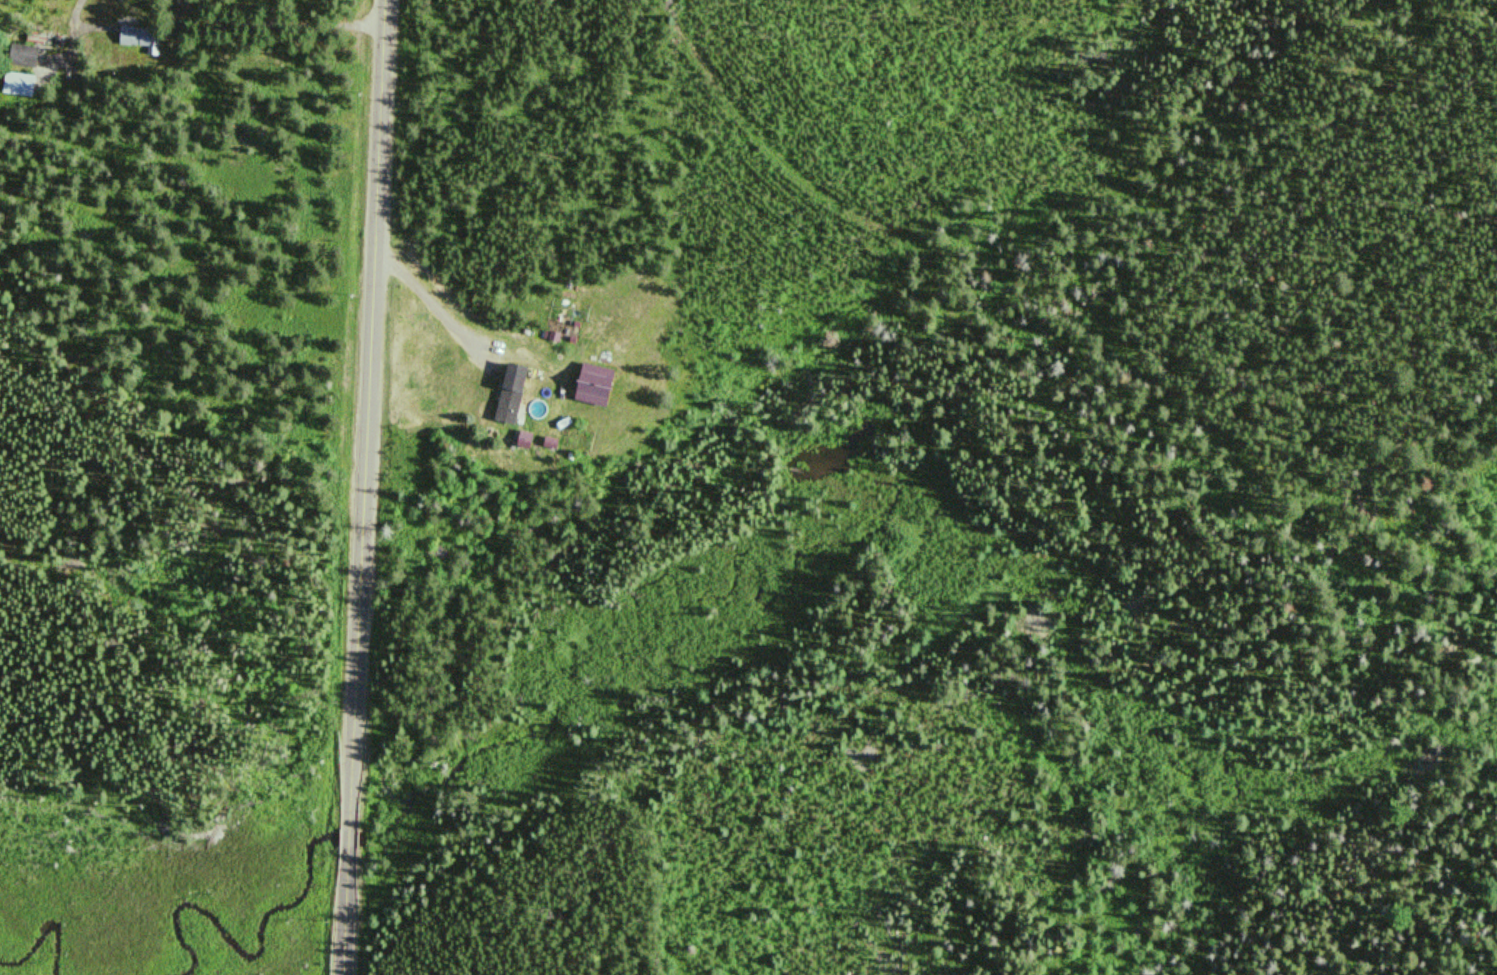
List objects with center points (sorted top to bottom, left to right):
road: (680, 22)
building: (135, 38)
building: (42, 39)
building: (20, 56)
building: (16, 85)
building: (506, 392)
road: (362, 487)

